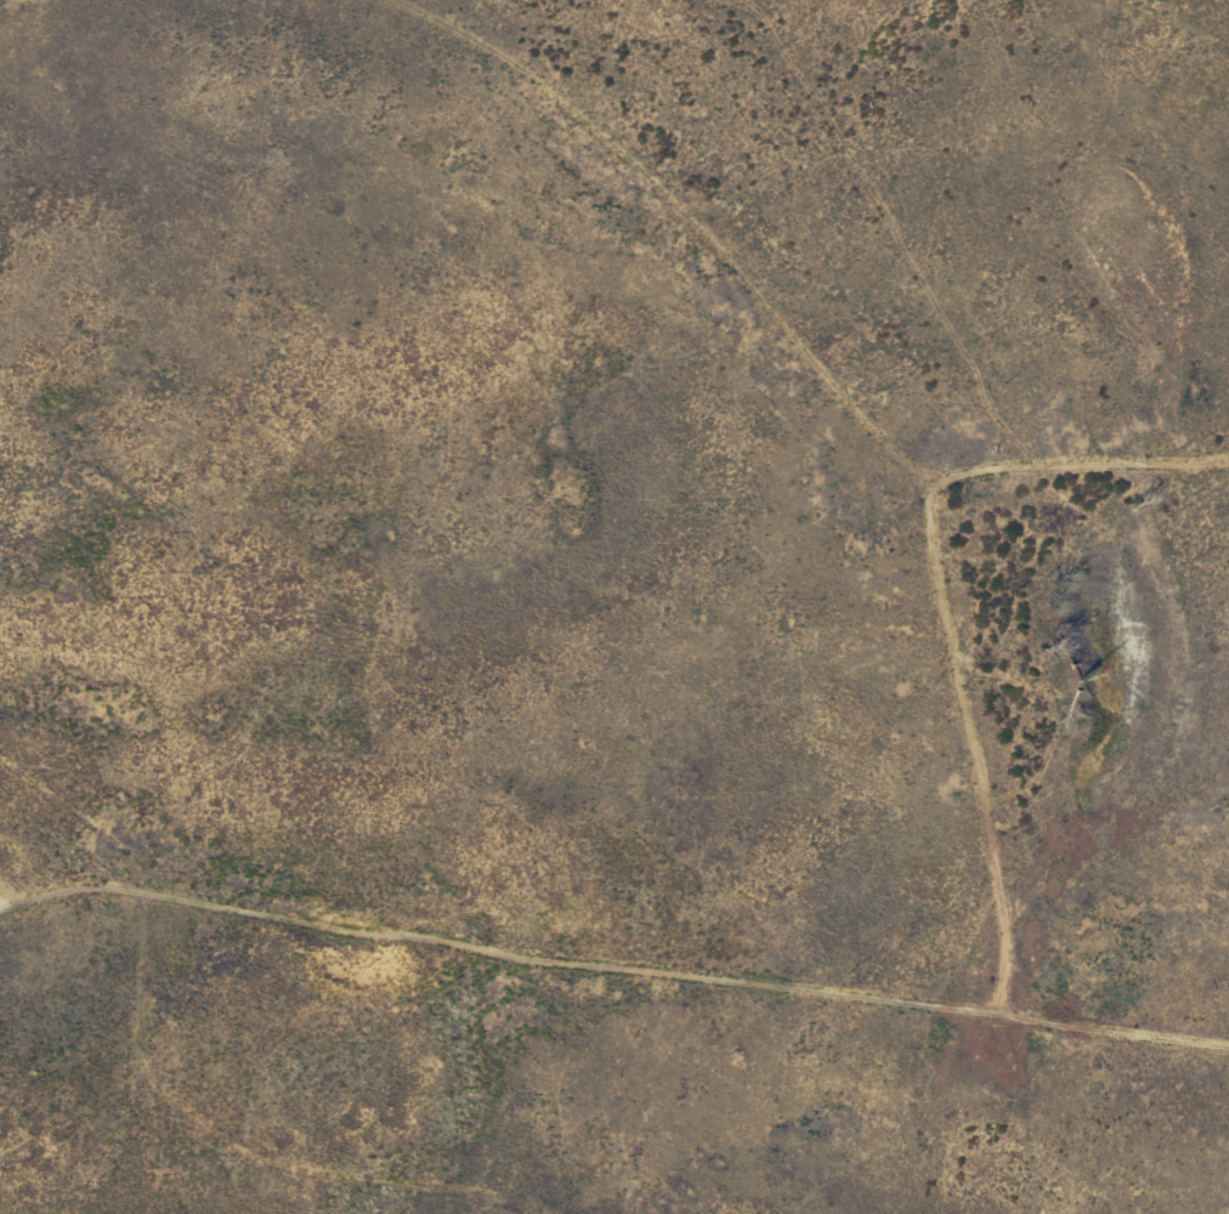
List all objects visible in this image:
road: (611, 968)

